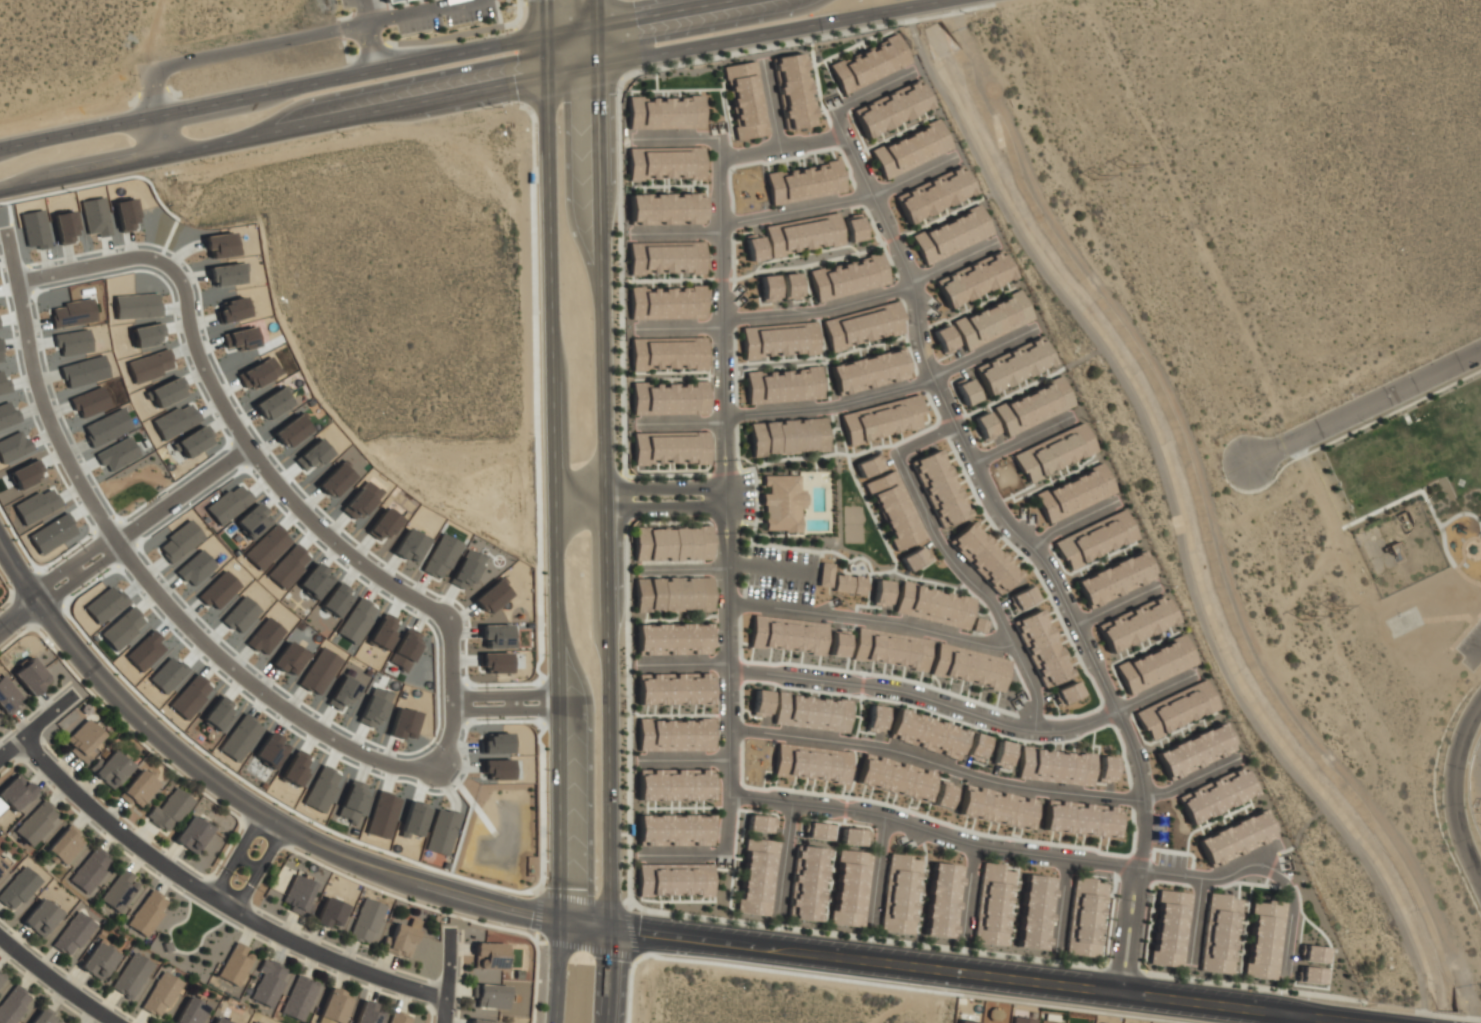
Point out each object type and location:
building: (388, 1)
road: (411, 14)
road: (443, 38)
road: (370, 46)
road: (216, 56)
building: (869, 63)
road: (357, 72)
road: (468, 89)
building: (792, 90)
building: (745, 100)
building: (891, 108)
building: (663, 111)
road: (783, 147)
building: (910, 148)
building: (664, 161)
power tower: (1125, 163)
building: (528, 176)
power tower: (1096, 177)
building: (804, 181)
building: (933, 194)
building: (665, 207)
road: (796, 209)
building: (810, 234)
building: (950, 234)
building: (753, 247)
building: (665, 256)
road: (88, 262)
building: (847, 277)
building: (972, 279)
building: (790, 285)
building: (768, 286)
building: (667, 302)
road: (820, 309)
building: (991, 321)
building: (862, 326)
building: (944, 339)
building: (778, 340)
building: (667, 354)
road: (1083, 357)
building: (1012, 365)
building: (868, 371)
building: (782, 386)
building: (966, 391)
road: (39, 393)
road: (1384, 398)
building: (668, 399)
building: (271, 403)
building: (1032, 407)
road: (833, 408)
building: (881, 420)
building: (984, 425)
building: (291, 430)
building: (787, 437)
building: (669, 448)
building: (1053, 454)
building: (312, 455)
road: (554, 459)
road: (605, 463)
building: (868, 466)
road: (267, 467)
building: (25, 473)
building: (334, 479)
building: (939, 489)
road: (730, 491)
road: (181, 492)
building: (1073, 493)
building: (360, 500)
road: (642, 501)
building: (227, 504)
building: (779, 504)
building: (36, 505)
road: (1174, 508)
building: (893, 511)
building: (252, 521)
park: (856, 523)
building: (383, 524)
building: (1094, 539)
building: (671, 542)
building: (409, 545)
road: (1026, 545)
building: (266, 547)
road: (90, 548)
building: (1396, 551)
building: (441, 556)
building: (913, 558)
building: (983, 559)
road: (99, 560)
road: (953, 563)
building: (287, 566)
road: (771, 567)
building: (465, 569)
road: (72, 570)
building: (824, 573)
parking lot: (781, 575)
road: (47, 577)
building: (1114, 579)
building: (314, 581)
building: (849, 583)
road: (58, 590)
building: (881, 592)
building: (672, 593)
power tower: (1330, 595)
building: (491, 596)
building: (1022, 598)
building: (336, 599)
building: (933, 605)
power tower: (1303, 614)
road: (19, 615)
road: (873, 618)
building: (356, 620)
building: (1134, 623)
building: (979, 625)
building: (383, 632)
building: (496, 635)
building: (787, 635)
building: (672, 638)
building: (838, 643)
building: (405, 648)
building: (890, 649)
building: (1041, 649)
building: (288, 657)
building: (495, 661)
building: (1154, 664)
building: (968, 667)
building: (319, 671)
building: (30, 677)
road: (253, 685)
building: (673, 687)
road: (450, 691)
building: (343, 692)
road: (533, 692)
building: (1066, 692)
road: (481, 694)
building: (190, 696)
building: (7, 697)
road: (926, 699)
road: (511, 701)
building: (760, 702)
building: (85, 707)
building: (373, 707)
road: (533, 708)
road: (481, 709)
building: (1175, 709)
building: (811, 711)
building: (216, 713)
building: (874, 717)
building: (403, 723)
road: (37, 727)
building: (675, 734)
building: (926, 734)
building: (82, 738)
building: (239, 738)
building: (976, 746)
road: (30, 748)
building: (269, 749)
road: (49, 750)
building: (1195, 751)
building: (1001, 753)
building: (811, 762)
building: (1054, 765)
building: (110, 767)
building: (1105, 768)
building: (295, 769)
road: (39, 775)
road: (39, 776)
building: (895, 776)
building: (673, 784)
road: (1454, 785)
building: (138, 787)
building: (321, 788)
road: (234, 793)
building: (14, 795)
building: (942, 795)
building: (1216, 795)
building: (352, 800)
building: (996, 806)
building: (168, 810)
building: (382, 815)
building: (414, 818)
building: (1080, 818)
building: (760, 823)
building: (36, 824)
building: (630, 828)
building: (674, 829)
building: (818, 830)
building: (441, 832)
building: (190, 834)
building: (854, 836)
building: (1236, 837)
building: (65, 846)
road: (235, 852)
road: (1056, 858)
road: (246, 862)
building: (2, 868)
road: (259, 868)
building: (529, 870)
building: (89, 871)
building: (757, 876)
building: (673, 878)
road: (163, 880)
road: (165, 881)
building: (807, 882)
building: (851, 888)
building: (17, 889)
building: (120, 891)
building: (297, 893)
building: (899, 894)
road: (581, 898)
road: (217, 900)
building: (943, 900)
building: (993, 904)
road: (205, 907)
building: (329, 911)
road: (537, 911)
building: (1036, 912)
building: (147, 913)
building: (1085, 917)
building: (40, 919)
building: (367, 921)
road: (582, 923)
building: (1170, 928)
road: (248, 930)
street lamp: (530, 930)
road: (630, 932)
road: (247, 933)
building: (1219, 934)
building: (71, 935)
park: (194, 935)
building: (400, 938)
building: (1264, 939)
road: (536, 941)
building: (167, 946)
road: (175, 949)
road: (591, 950)
building: (1314, 953)
building: (488, 956)
building: (97, 961)
building: (236, 964)
road: (554, 971)
road: (985, 971)
road: (608, 974)
building: (1311, 975)
road: (449, 976)
building: (130, 977)
building: (1, 978)
road: (56, 981)
building: (2, 982)
building: (267, 984)
building: (160, 995)
building: (490, 997)
building: (300, 999)
building: (13, 1005)
building: (336, 1007)
building: (190, 1012)
building: (367, 1014)
building: (42, 1018)
building: (399, 1018)
building: (1023, 1019)
road: (1290, 1019)
building: (219, 1020)
building: (483, 1021)
building: (967, 1021)
building: (1049, 1021)
building: (253, 1022)

